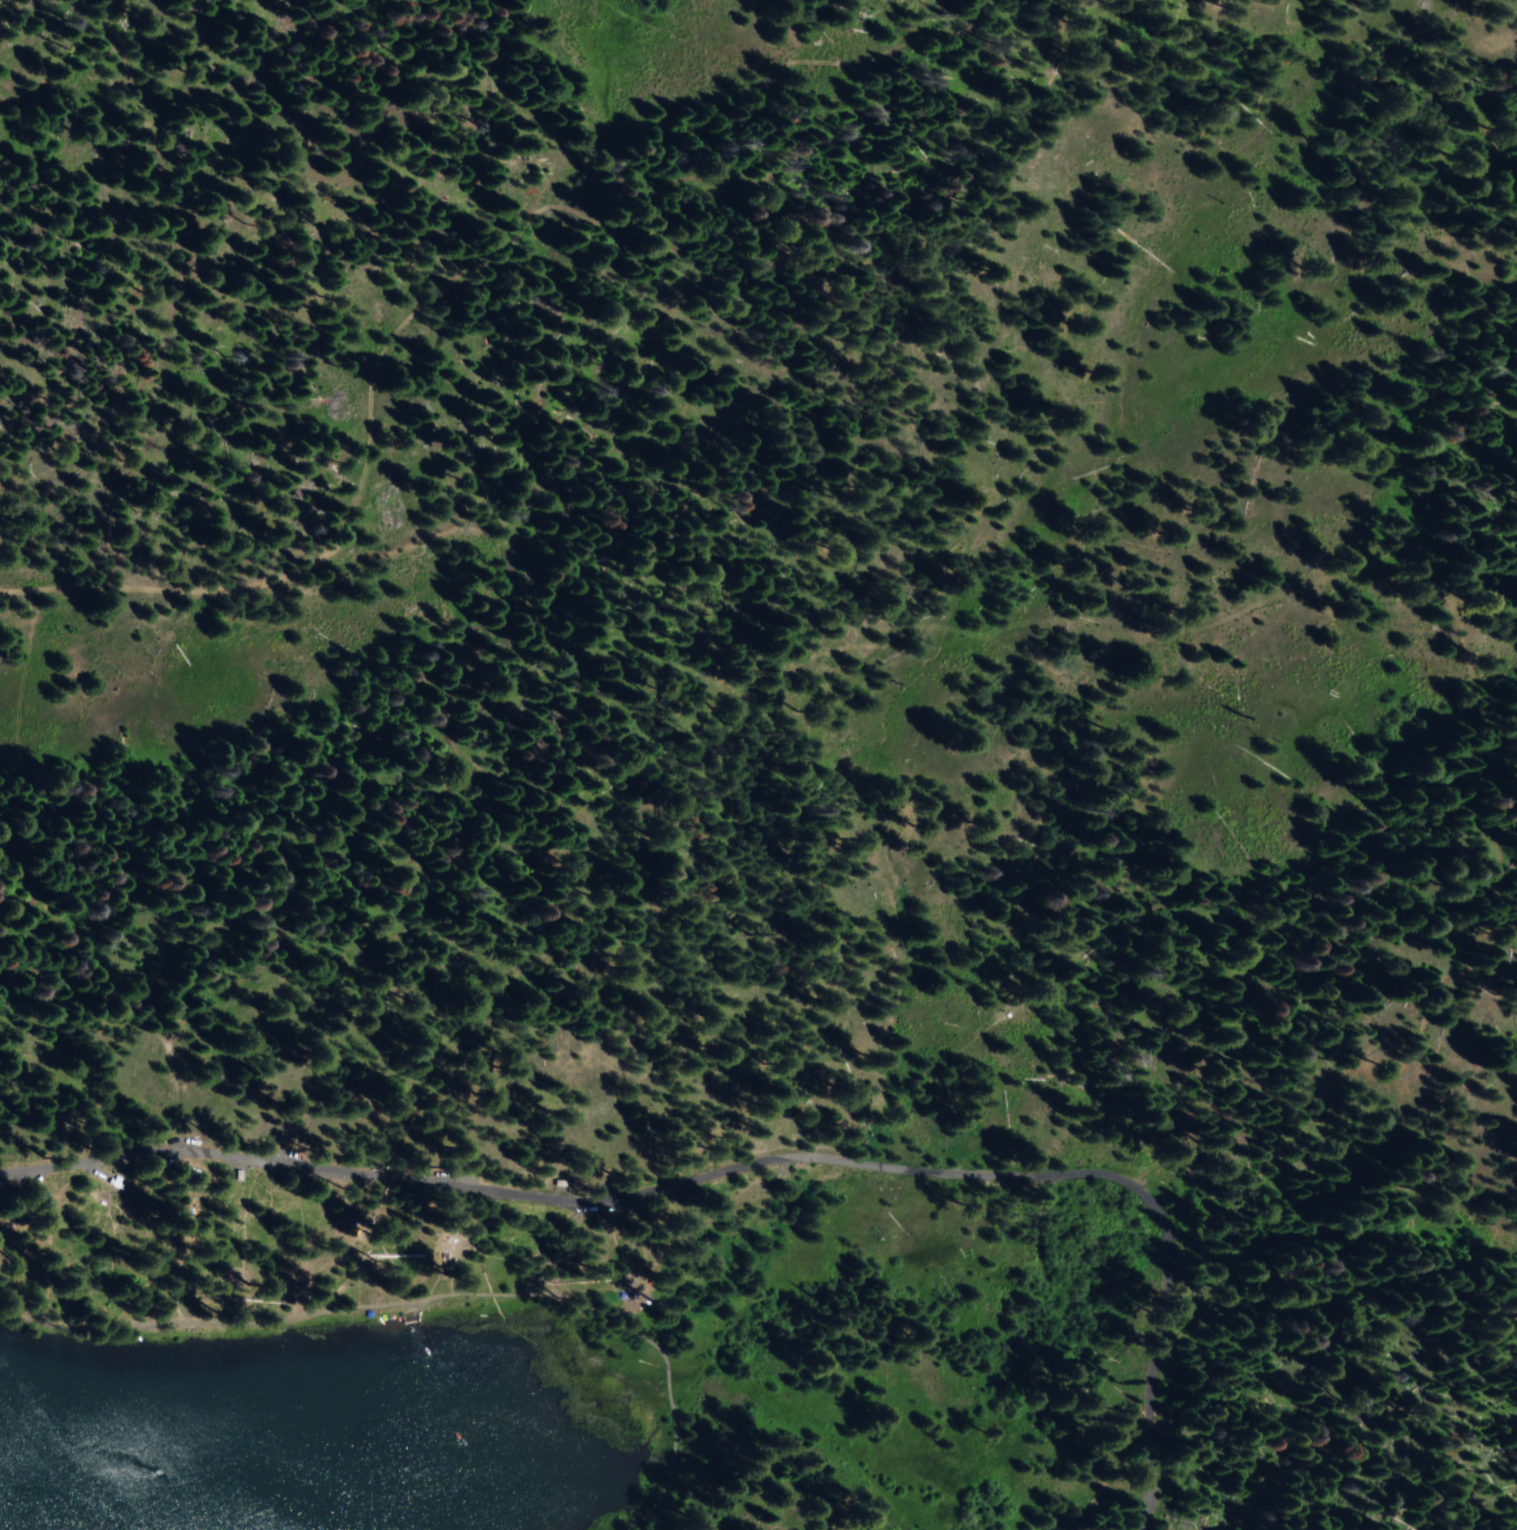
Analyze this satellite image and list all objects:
road: (469, 263)
road: (1514, 972)
road: (744, 1166)
building: (461, 1246)
road: (431, 1296)

